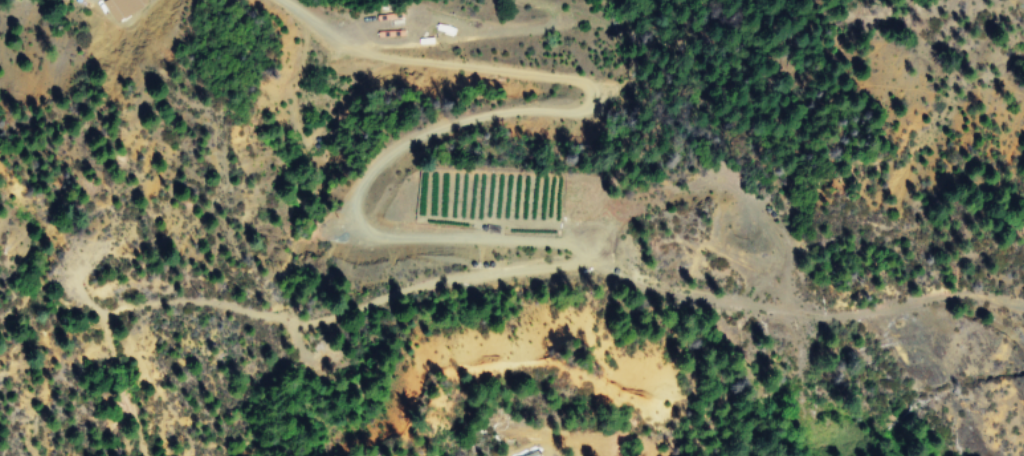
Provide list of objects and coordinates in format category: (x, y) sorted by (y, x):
building: (118, 6)
road: (877, 20)

